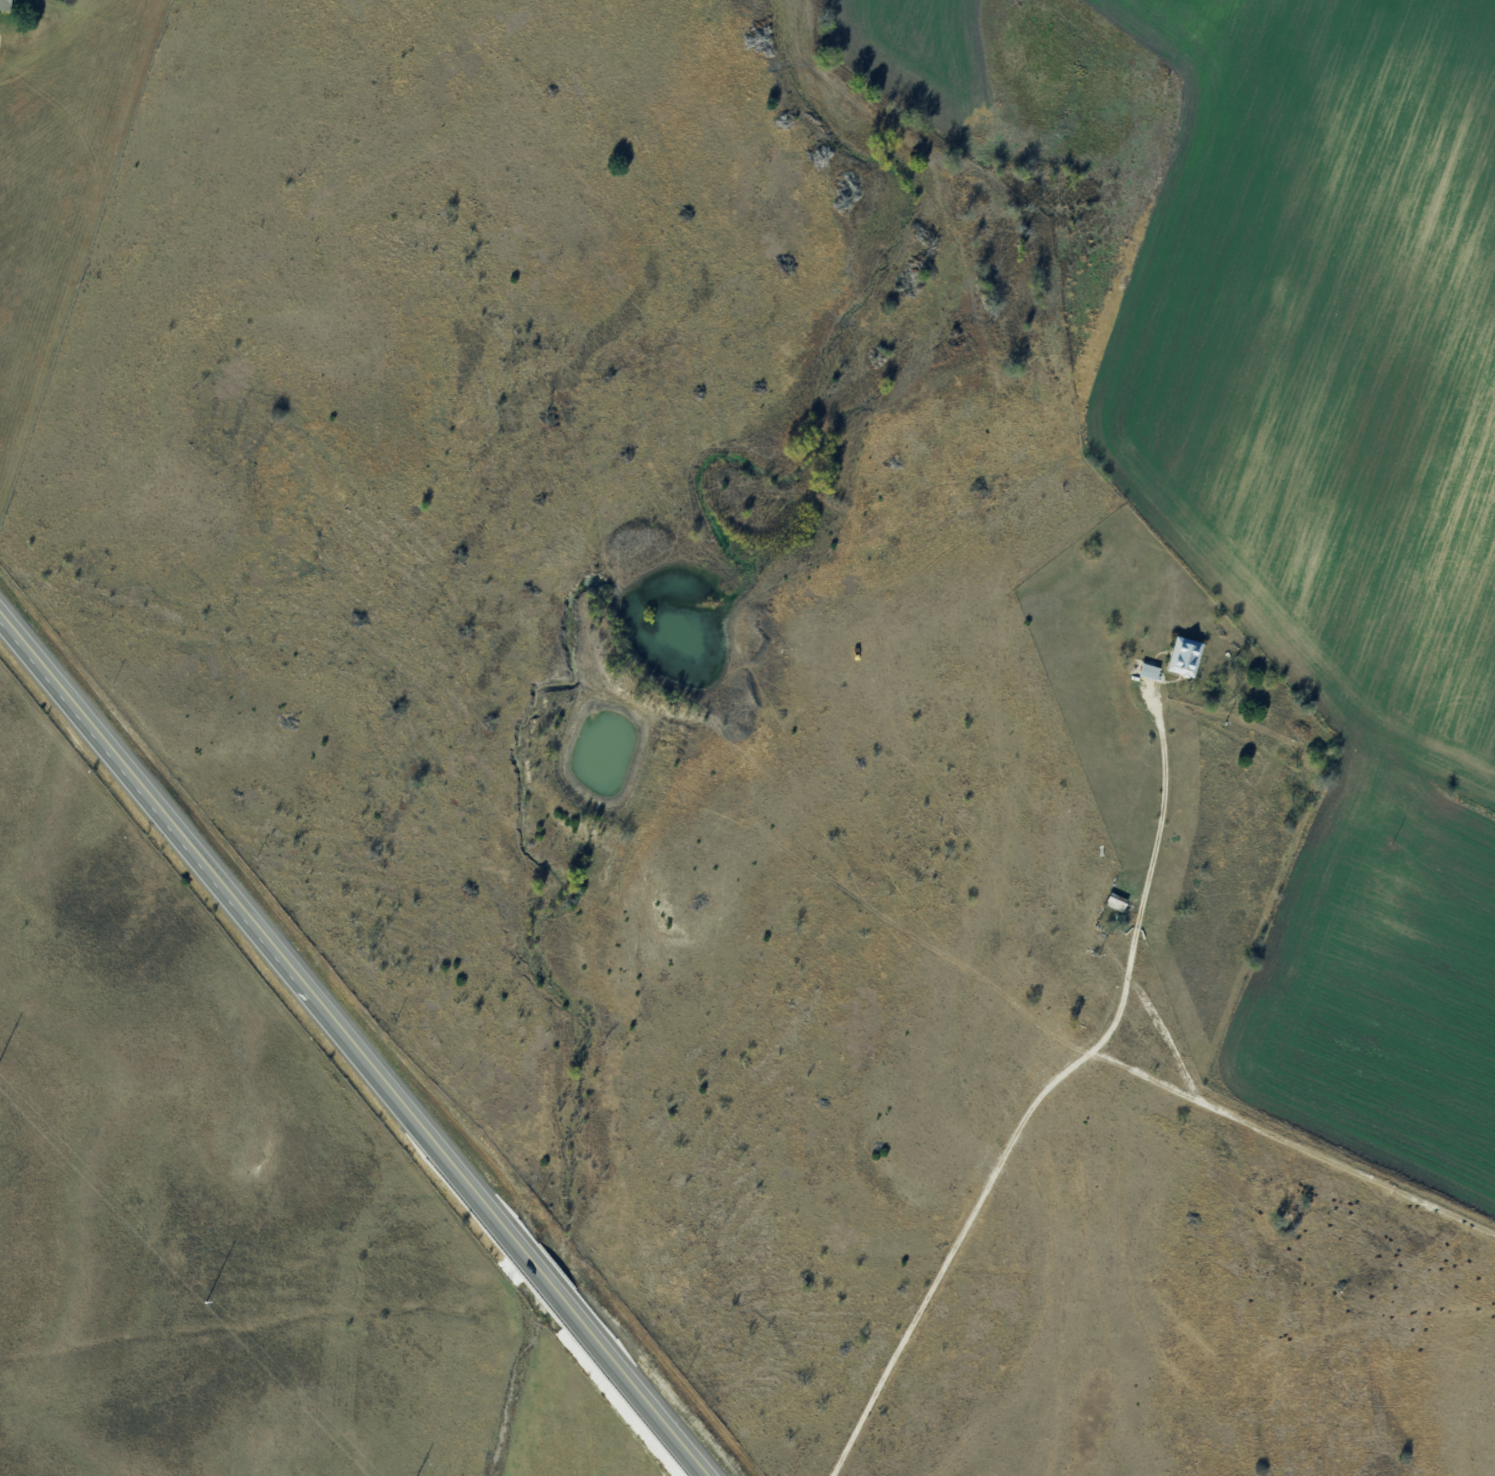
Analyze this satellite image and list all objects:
building: (6, 4)
building: (1184, 656)
building: (1148, 671)
building: (1115, 901)
building: (1085, 1005)
road: (358, 1039)
road: (1305, 1116)
power tower: (204, 1302)

